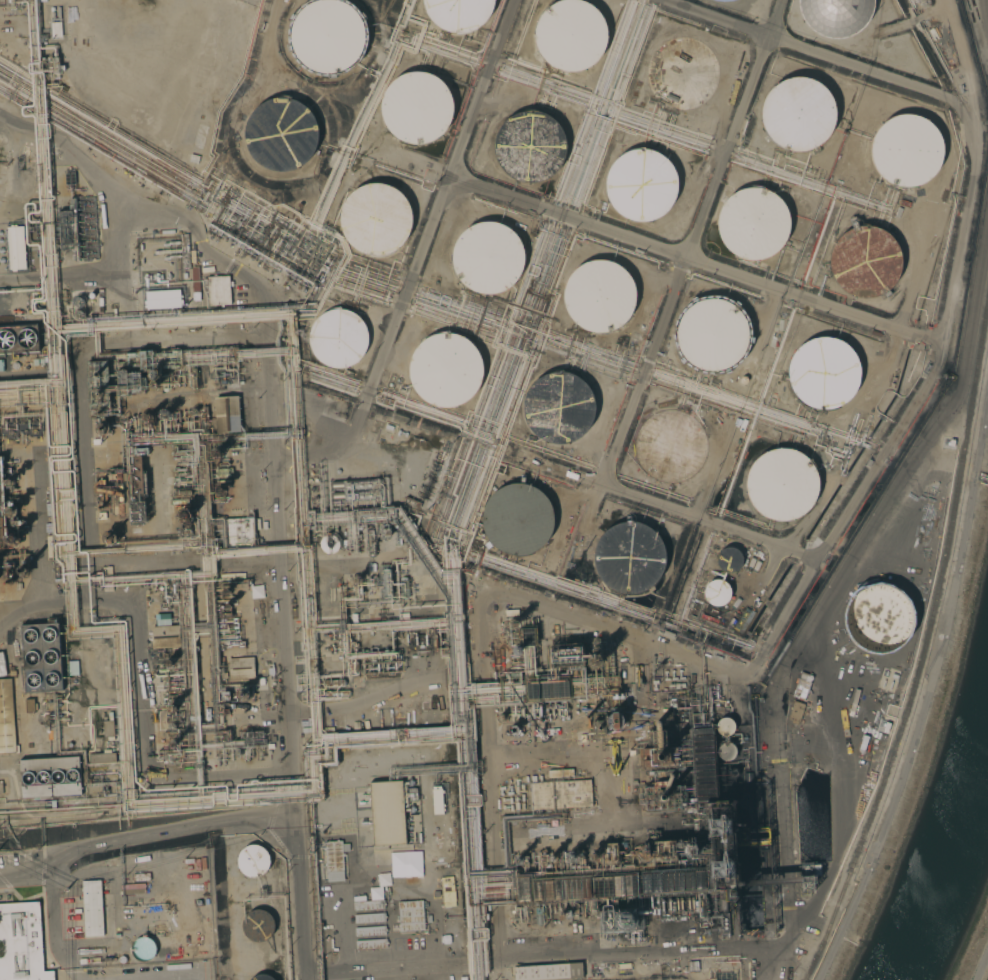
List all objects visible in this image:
building: (726, 0)
building: (11, 2)
building: (459, 14)
building: (835, 16)
road: (713, 19)
building: (327, 36)
building: (569, 37)
building: (207, 50)
building: (55, 65)
building: (680, 72)
road: (966, 75)
building: (417, 107)
building: (800, 114)
building: (277, 134)
building: (194, 137)
building: (531, 145)
building: (910, 151)
building: (641, 183)
building: (375, 220)
building: (751, 223)
building: (16, 248)
building: (185, 251)
building: (487, 255)
road: (419, 257)
building: (864, 260)
road: (694, 261)
road: (100, 272)
building: (144, 290)
building: (219, 290)
road: (950, 290)
building: (599, 295)
building: (91, 296)
building: (78, 314)
road: (657, 330)
building: (711, 334)
building: (18, 338)
building: (338, 339)
building: (130, 353)
building: (35, 362)
building: (41, 362)
building: (1, 365)
building: (14, 365)
building: (446, 373)
building: (825, 375)
building: (134, 378)
building: (194, 379)
building: (164, 383)
building: (97, 386)
road: (272, 393)
building: (555, 406)
building: (227, 414)
building: (165, 415)
building: (21, 429)
building: (102, 429)
building: (671, 447)
building: (179, 452)
building: (138, 468)
building: (221, 470)
building: (222, 475)
building: (8, 482)
building: (356, 483)
building: (779, 484)
building: (119, 492)
building: (182, 493)
building: (219, 493)
building: (357, 495)
building: (0, 497)
building: (11, 500)
building: (180, 501)
building: (411, 502)
building: (10, 512)
building: (182, 518)
building: (516, 519)
building: (11, 523)
building: (1, 524)
building: (240, 532)
building: (385, 533)
building: (108, 537)
building: (12, 539)
building: (370, 542)
building: (329, 544)
road: (37, 555)
building: (629, 560)
building: (727, 560)
building: (8, 570)
building: (23, 570)
building: (107, 578)
building: (403, 587)
building: (715, 592)
building: (169, 596)
building: (511, 612)
building: (403, 616)
building: (877, 617)
building: (162, 619)
building: (165, 636)
building: (527, 637)
railway: (924, 651)
building: (8, 654)
building: (565, 655)
building: (41, 657)
building: (168, 663)
building: (313, 665)
building: (72, 667)
building: (240, 668)
building: (354, 668)
building: (166, 670)
building: (332, 683)
road: (926, 685)
building: (547, 689)
building: (335, 693)
building: (241, 694)
building: (225, 695)
building: (265, 702)
building: (29, 705)
building: (171, 708)
road: (141, 709)
building: (563, 709)
building: (540, 710)
building: (545, 710)
building: (552, 710)
building: (558, 710)
building: (796, 711)
building: (436, 712)
building: (528, 712)
building: (500, 717)
building: (6, 718)
building: (616, 721)
building: (415, 722)
building: (355, 725)
building: (724, 726)
building: (108, 728)
building: (174, 734)
building: (272, 739)
building: (269, 746)
building: (172, 749)
building: (726, 751)
building: (660, 756)
building: (102, 757)
building: (703, 765)
building: (559, 772)
building: (50, 776)
building: (512, 787)
building: (1, 788)
building: (561, 794)
building: (661, 796)
building: (437, 800)
building: (48, 803)
building: (386, 813)
building: (582, 813)
road: (143, 841)
building: (691, 848)
building: (664, 850)
building: (721, 850)
building: (644, 852)
building: (610, 854)
building: (568, 856)
building: (592, 856)
building: (551, 858)
building: (517, 859)
building: (252, 860)
building: (335, 860)
building: (809, 874)
building: (141, 877)
building: (672, 882)
building: (613, 886)
building: (522, 889)
building: (560, 889)
building: (447, 891)
building: (436, 894)
building: (368, 904)
building: (662, 904)
building: (676, 904)
building: (680, 904)
building: (688, 904)
building: (692, 904)
building: (608, 905)
building: (668, 906)
building: (92, 908)
building: (621, 908)
building: (702, 908)
building: (574, 909)
building: (538, 914)
building: (410, 915)
building: (369, 918)
building: (258, 925)
building: (370, 931)
building: (21, 942)
building: (371, 944)
building: (142, 948)
building: (121, 959)
road: (981, 963)
building: (548, 971)
road: (157, 977)
building: (262, 977)
road: (160, 978)

